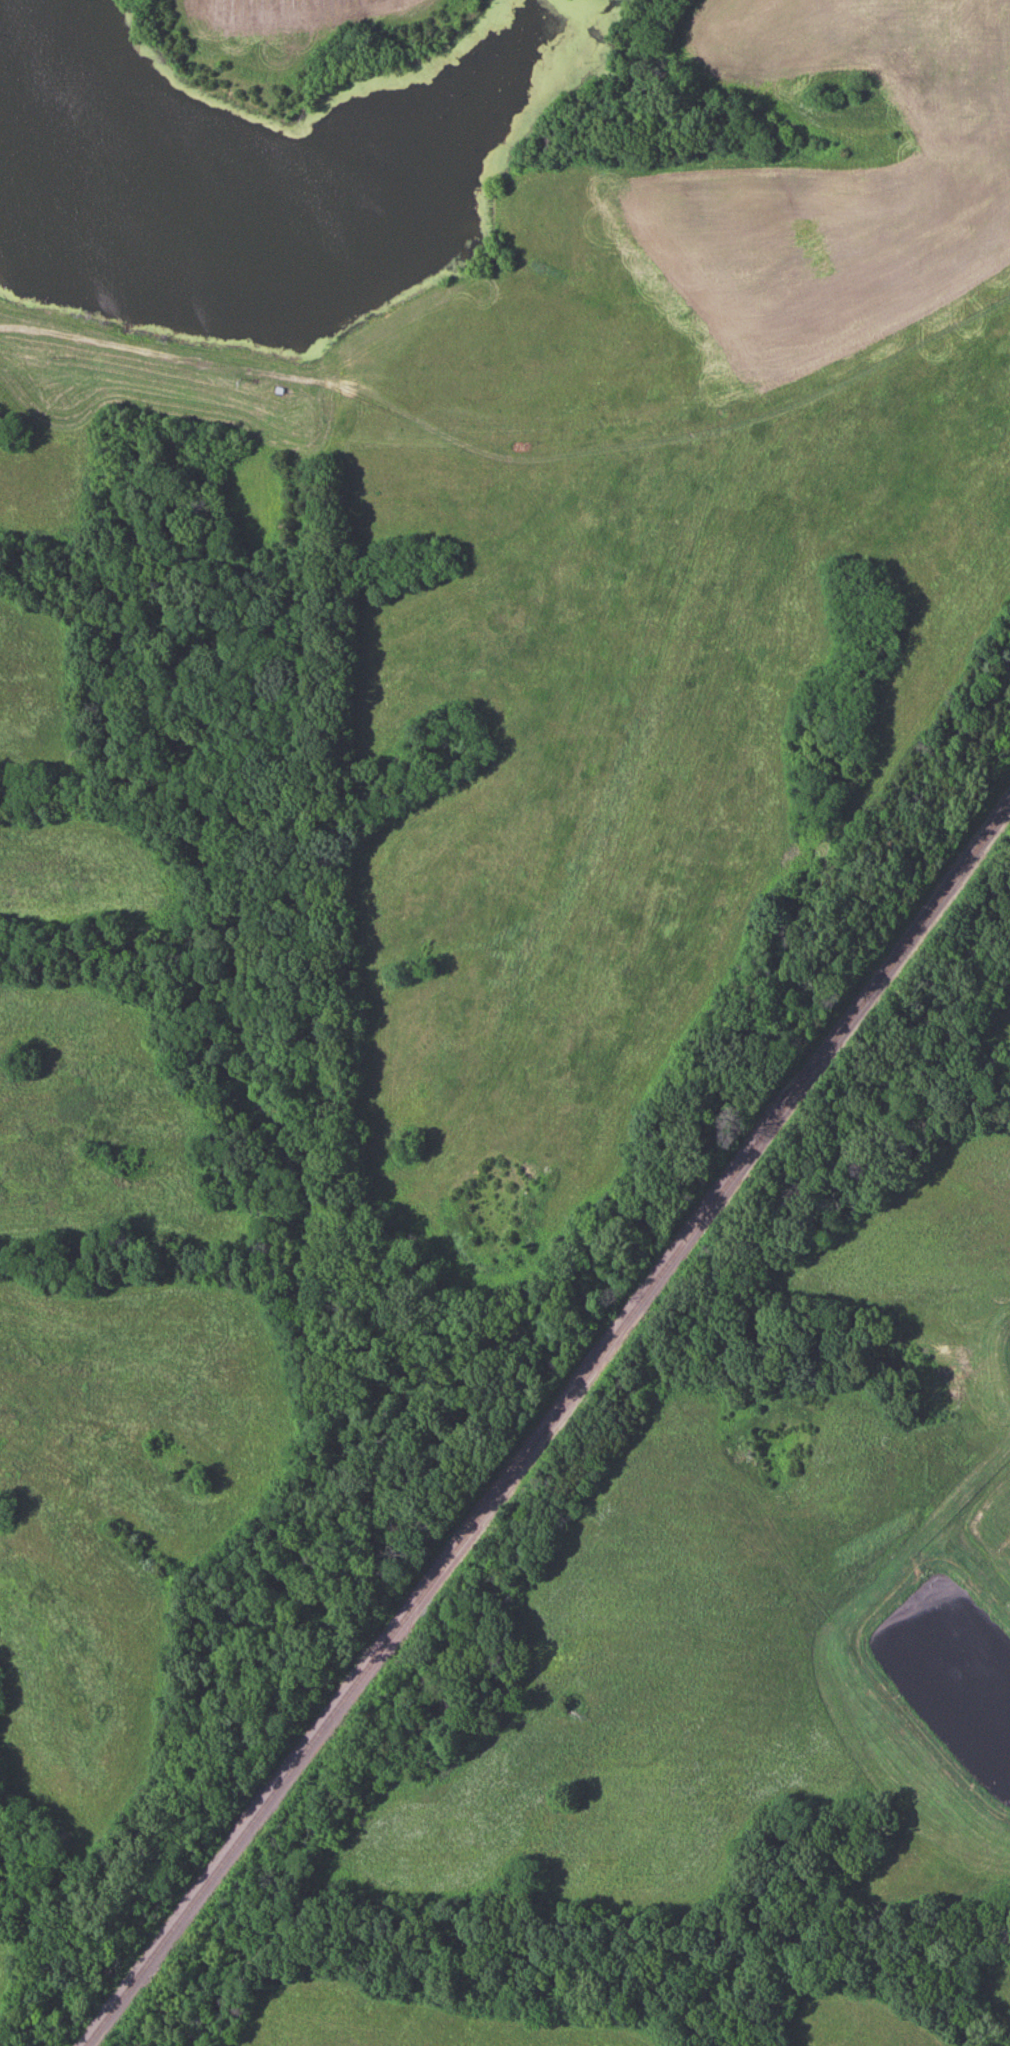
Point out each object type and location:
railway: (555, 1426)

